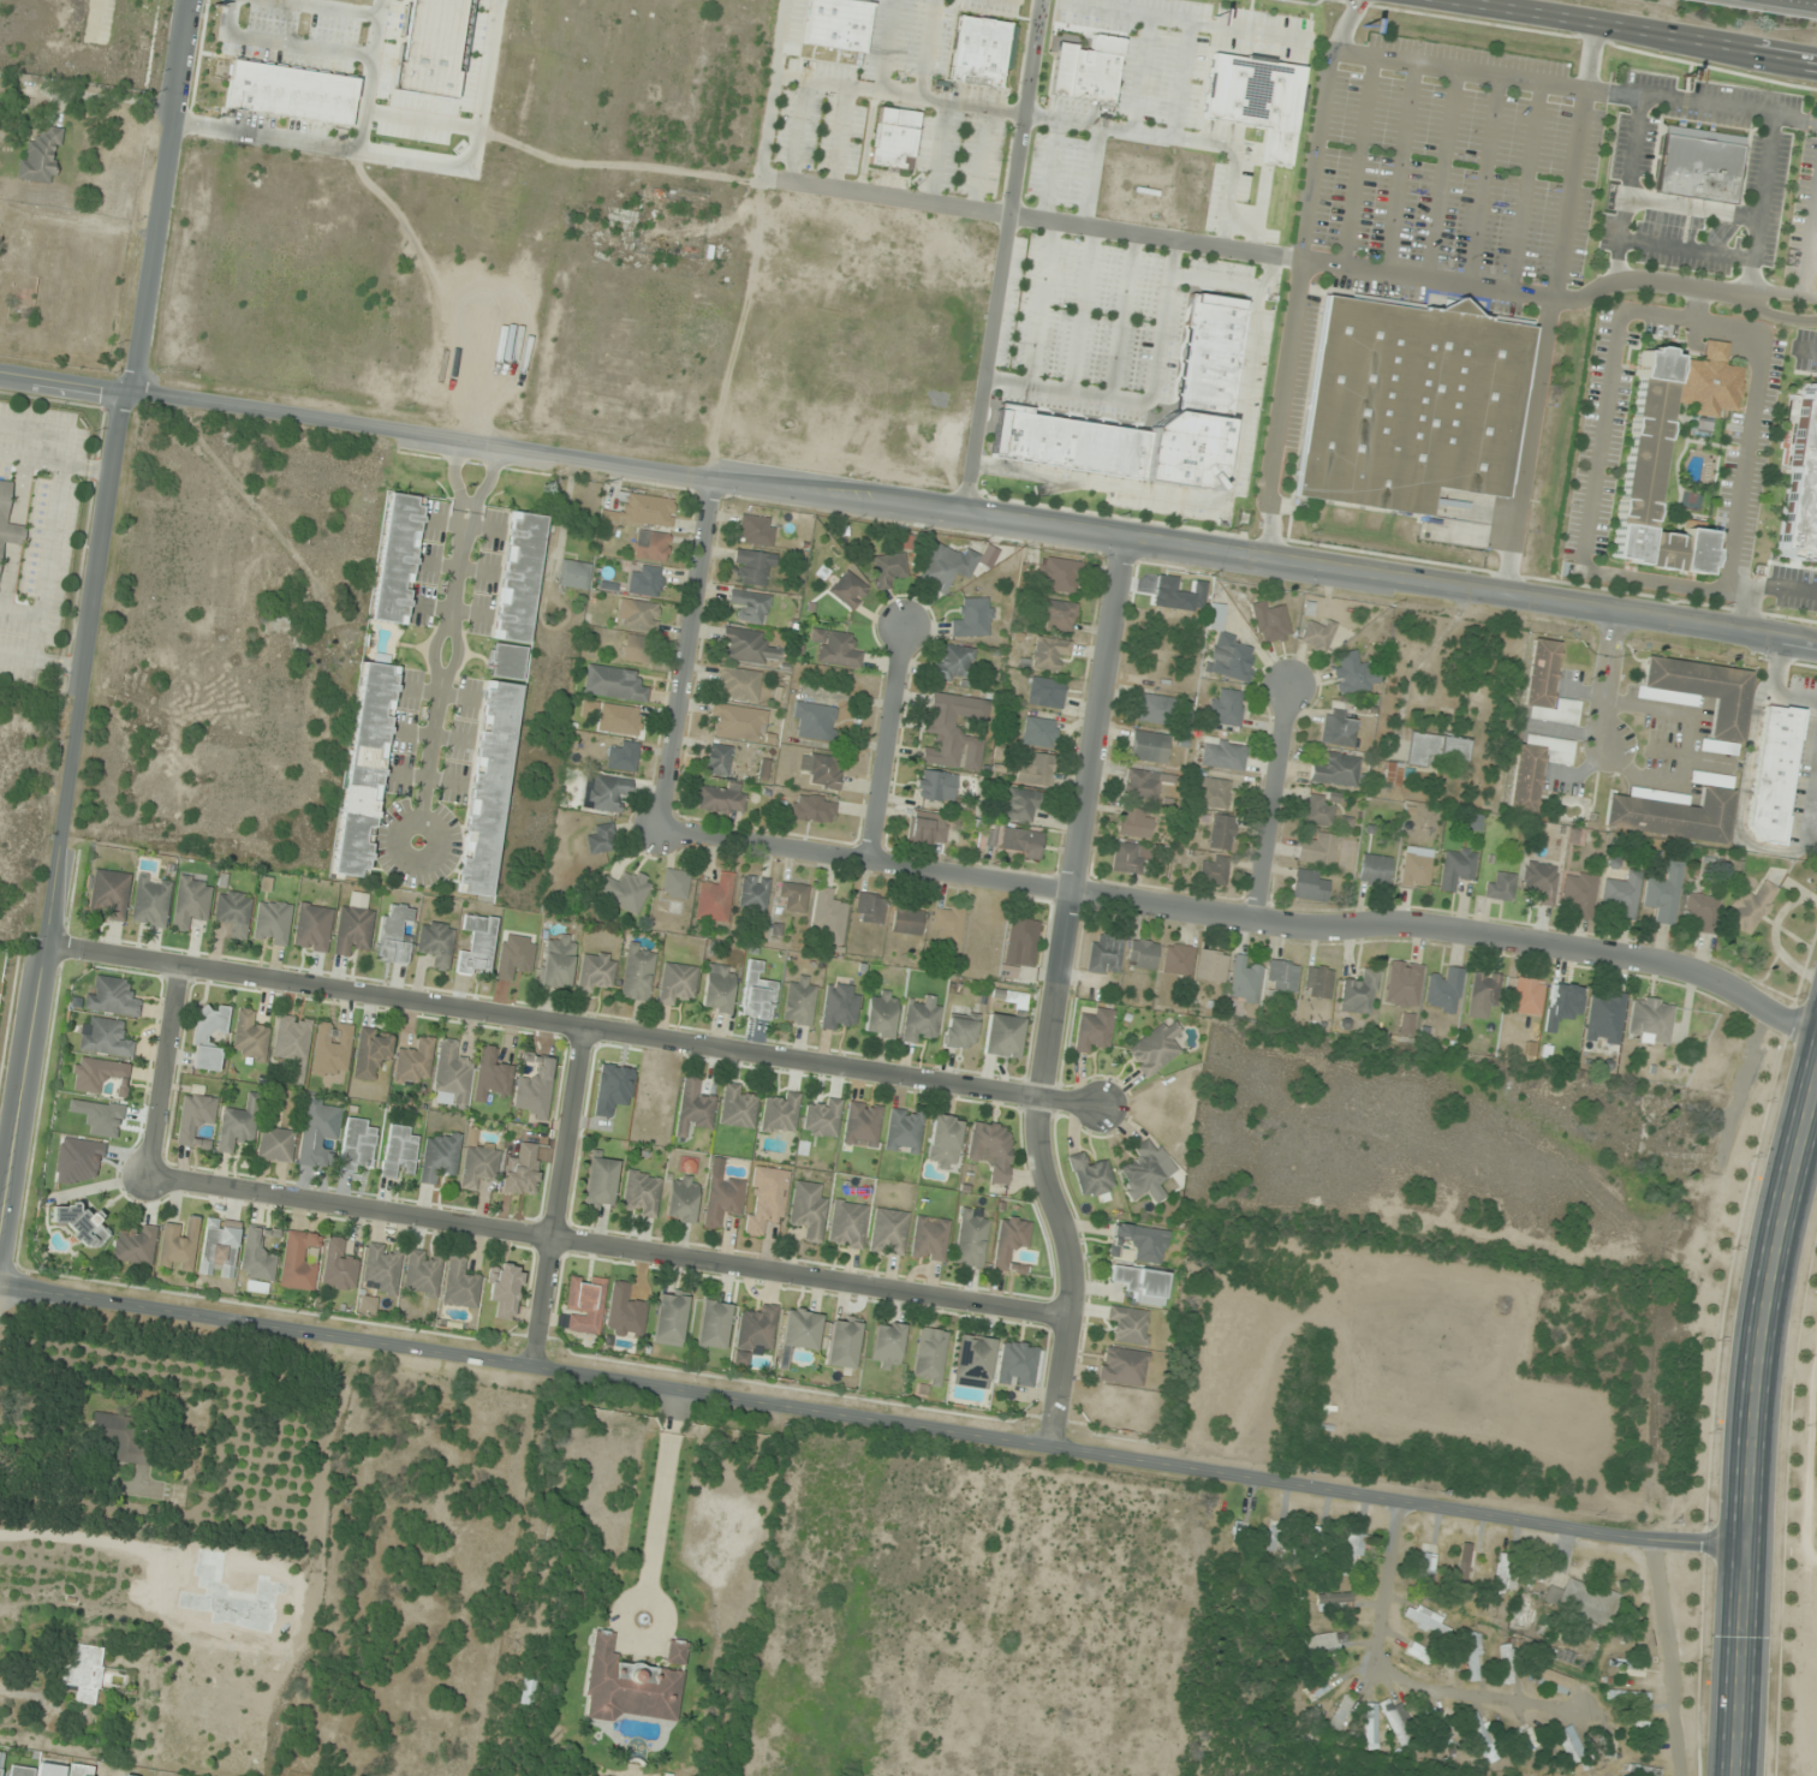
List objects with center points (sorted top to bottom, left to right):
road: (1813, 0)
road: (340, 5)
road: (377, 5)
building: (828, 23)
road: (1634, 30)
road: (285, 38)
road: (780, 38)
building: (422, 43)
road: (887, 46)
building: (970, 48)
road: (927, 49)
road: (1816, 62)
building: (1079, 66)
road: (1144, 73)
road: (1574, 88)
building: (282, 90)
road: (1185, 90)
road: (899, 95)
building: (1246, 96)
road: (434, 120)
road: (767, 127)
road: (797, 132)
road: (286, 137)
building: (887, 137)
road: (836, 139)
road: (858, 142)
road: (940, 154)
building: (41, 156)
road: (434, 160)
road: (982, 160)
road: (1356, 161)
building: (1699, 165)
road: (1395, 167)
road: (1054, 171)
road: (1437, 174)
parking lot: (1458, 175)
road: (1094, 177)
road: (1483, 181)
road: (1524, 187)
road: (1017, 216)
road: (1810, 244)
road: (1685, 246)
road: (1002, 258)
road: (1614, 260)
road: (1812, 263)
road: (1747, 276)
road: (1297, 278)
road: (1219, 282)
road: (1781, 292)
road: (1524, 296)
road: (1044, 304)
road: (1693, 305)
road: (1549, 309)
road: (1084, 310)
road: (1126, 316)
road: (1777, 316)
road: (1626, 317)
building: (1199, 351)
building: (1709, 382)
road: (1150, 403)
building: (1410, 403)
building: (1652, 479)
building: (1800, 482)
road: (1221, 500)
building: (4, 502)
road: (907, 511)
building: (642, 512)
building: (756, 530)
building: (650, 546)
building: (397, 559)
building: (753, 566)
building: (946, 567)
building: (888, 570)
building: (572, 574)
building: (1059, 574)
building: (645, 582)
road: (1761, 584)
building: (847, 590)
building: (516, 596)
road: (94, 600)
building: (749, 606)
building: (639, 615)
building: (1058, 615)
building: (972, 619)
building: (1270, 622)
building: (275, 625)
road: (448, 634)
building: (1318, 634)
building: (746, 646)
building: (638, 649)
building: (838, 650)
building: (1227, 651)
building: (1048, 652)
road: (684, 654)
building: (953, 663)
building: (1353, 674)
road: (1604, 680)
building: (737, 683)
building: (613, 684)
building: (1545, 687)
building: (1045, 692)
building: (1700, 696)
building: (1226, 708)
building: (1154, 709)
building: (622, 720)
building: (814, 721)
building: (737, 722)
building: (939, 726)
building: (1336, 728)
building: (1038, 732)
road: (886, 746)
building: (1148, 746)
building: (1436, 751)
building: (1560, 752)
building: (1222, 753)
building: (621, 755)
building: (717, 759)
building: (365, 768)
building: (821, 770)
building: (1035, 770)
building: (1338, 771)
building: (1774, 774)
building: (1390, 775)
building: (1524, 780)
building: (1142, 785)
building: (935, 786)
building: (488, 787)
building: (604, 792)
building: (1213, 793)
building: (719, 799)
road: (1269, 803)
building: (1020, 804)
building: (811, 809)
building: (1318, 810)
building: (1673, 812)
building: (1133, 823)
building: (925, 828)
building: (1220, 833)
building: (600, 840)
building: (1020, 844)
building: (1317, 850)
building: (1125, 859)
building: (1414, 868)
building: (1455, 868)
building: (1374, 870)
building: (1213, 871)
building: (1539, 883)
building: (674, 884)
building: (1309, 886)
building: (1499, 886)
building: (624, 890)
building: (752, 894)
building: (1578, 894)
building: (108, 895)
building: (1621, 895)
building: (1662, 896)
building: (791, 898)
building: (713, 899)
building: (150, 901)
building: (190, 902)
building: (869, 908)
building: (1749, 908)
building: (1700, 912)
building: (233, 913)
building: (828, 918)
road: (1245, 919)
building: (905, 922)
building: (272, 923)
building: (946, 923)
building: (311, 928)
building: (352, 930)
building: (393, 936)
building: (1021, 940)
building: (435, 943)
building: (476, 946)
building: (1102, 954)
building: (1139, 954)
building: (1175, 960)
building: (556, 963)
building: (1209, 966)
building: (595, 972)
building: (636, 973)
building: (1281, 976)
building: (1243, 982)
building: (1316, 982)
building: (675, 983)
building: (1401, 984)
building: (717, 989)
building: (1442, 990)
building: (1358, 993)
road: (1052, 994)
building: (1482, 994)
building: (756, 995)
building: (1526, 996)
building: (112, 999)
building: (799, 1001)
building: (1019, 1001)
building: (838, 1007)
building: (880, 1014)
building: (1603, 1018)
building: (919, 1019)
building: (1649, 1020)
road: (568, 1025)
building: (1091, 1030)
building: (958, 1032)
building: (250, 1036)
building: (1001, 1036)
building: (103, 1037)
building: (208, 1037)
building: (292, 1043)
building: (330, 1049)
building: (1152, 1049)
building: (370, 1053)
building: (412, 1061)
road: (161, 1069)
building: (451, 1074)
building: (99, 1075)
road: (1740, 1085)
building: (534, 1086)
building: (692, 1105)
building: (737, 1107)
building: (779, 1115)
building: (821, 1119)
building: (195, 1120)
building: (1619, 1122)
building: (860, 1124)
building: (237, 1126)
building: (901, 1131)
building: (317, 1132)
building: (942, 1142)
building: (275, 1144)
building: (357, 1145)
building: (990, 1149)
building: (398, 1150)
building: (439, 1157)
building: (477, 1163)
building: (522, 1172)
building: (1145, 1172)
building: (1089, 1176)
building: (639, 1193)
road: (556, 1197)
building: (721, 1198)
building: (680, 1199)
building: (764, 1199)
building: (806, 1211)
building: (81, 1224)
building: (846, 1224)
building: (887, 1232)
building: (928, 1238)
building: (970, 1238)
building: (1139, 1241)
building: (1008, 1242)
building: (135, 1246)
building: (178, 1246)
road: (606, 1247)
building: (218, 1248)
building: (257, 1258)
building: (297, 1262)
building: (338, 1265)
building: (381, 1268)
building: (421, 1273)
building: (1138, 1283)
building: (459, 1285)
building: (505, 1289)
building: (584, 1304)
building: (624, 1313)
building: (669, 1318)
building: (711, 1325)
building: (1127, 1325)
building: (799, 1331)
building: (753, 1334)
building: (842, 1343)
building: (886, 1346)
building: (928, 1357)
building: (971, 1361)
building: (1014, 1364)
building: (1120, 1366)
road: (871, 1418)
road: (1749, 1419)
building: (121, 1437)
building: (1313, 1546)
building: (1351, 1549)
building: (1428, 1557)
building: (1500, 1573)
building: (1536, 1577)
building: (1333, 1602)
building: (1584, 1603)
building: (1425, 1620)
building: (1325, 1643)
building: (675, 1652)
building: (1419, 1653)
road: (1669, 1656)
building: (1471, 1657)
building: (1505, 1664)
building: (83, 1671)
road: (1394, 1680)
building: (1551, 1681)
building: (1312, 1683)
building: (628, 1686)
building: (1627, 1695)
building: (1339, 1717)
building: (1401, 1726)
building: (1436, 1727)
building: (1483, 1738)
building: (1525, 1740)
building: (1604, 1745)
building: (1566, 1746)
building: (0, 1753)
building: (49, 1769)
building: (79, 1770)
building: (20, 1771)
building: (1649, 1771)

